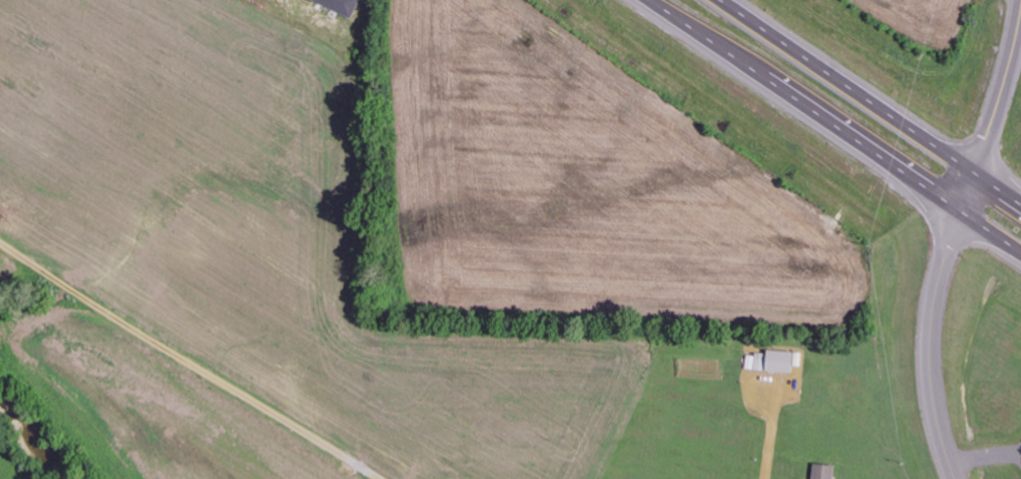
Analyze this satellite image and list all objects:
building: (341, 6)
road: (871, 101)
road: (995, 112)
road: (838, 123)
road: (927, 341)
road: (189, 363)
building: (824, 472)

